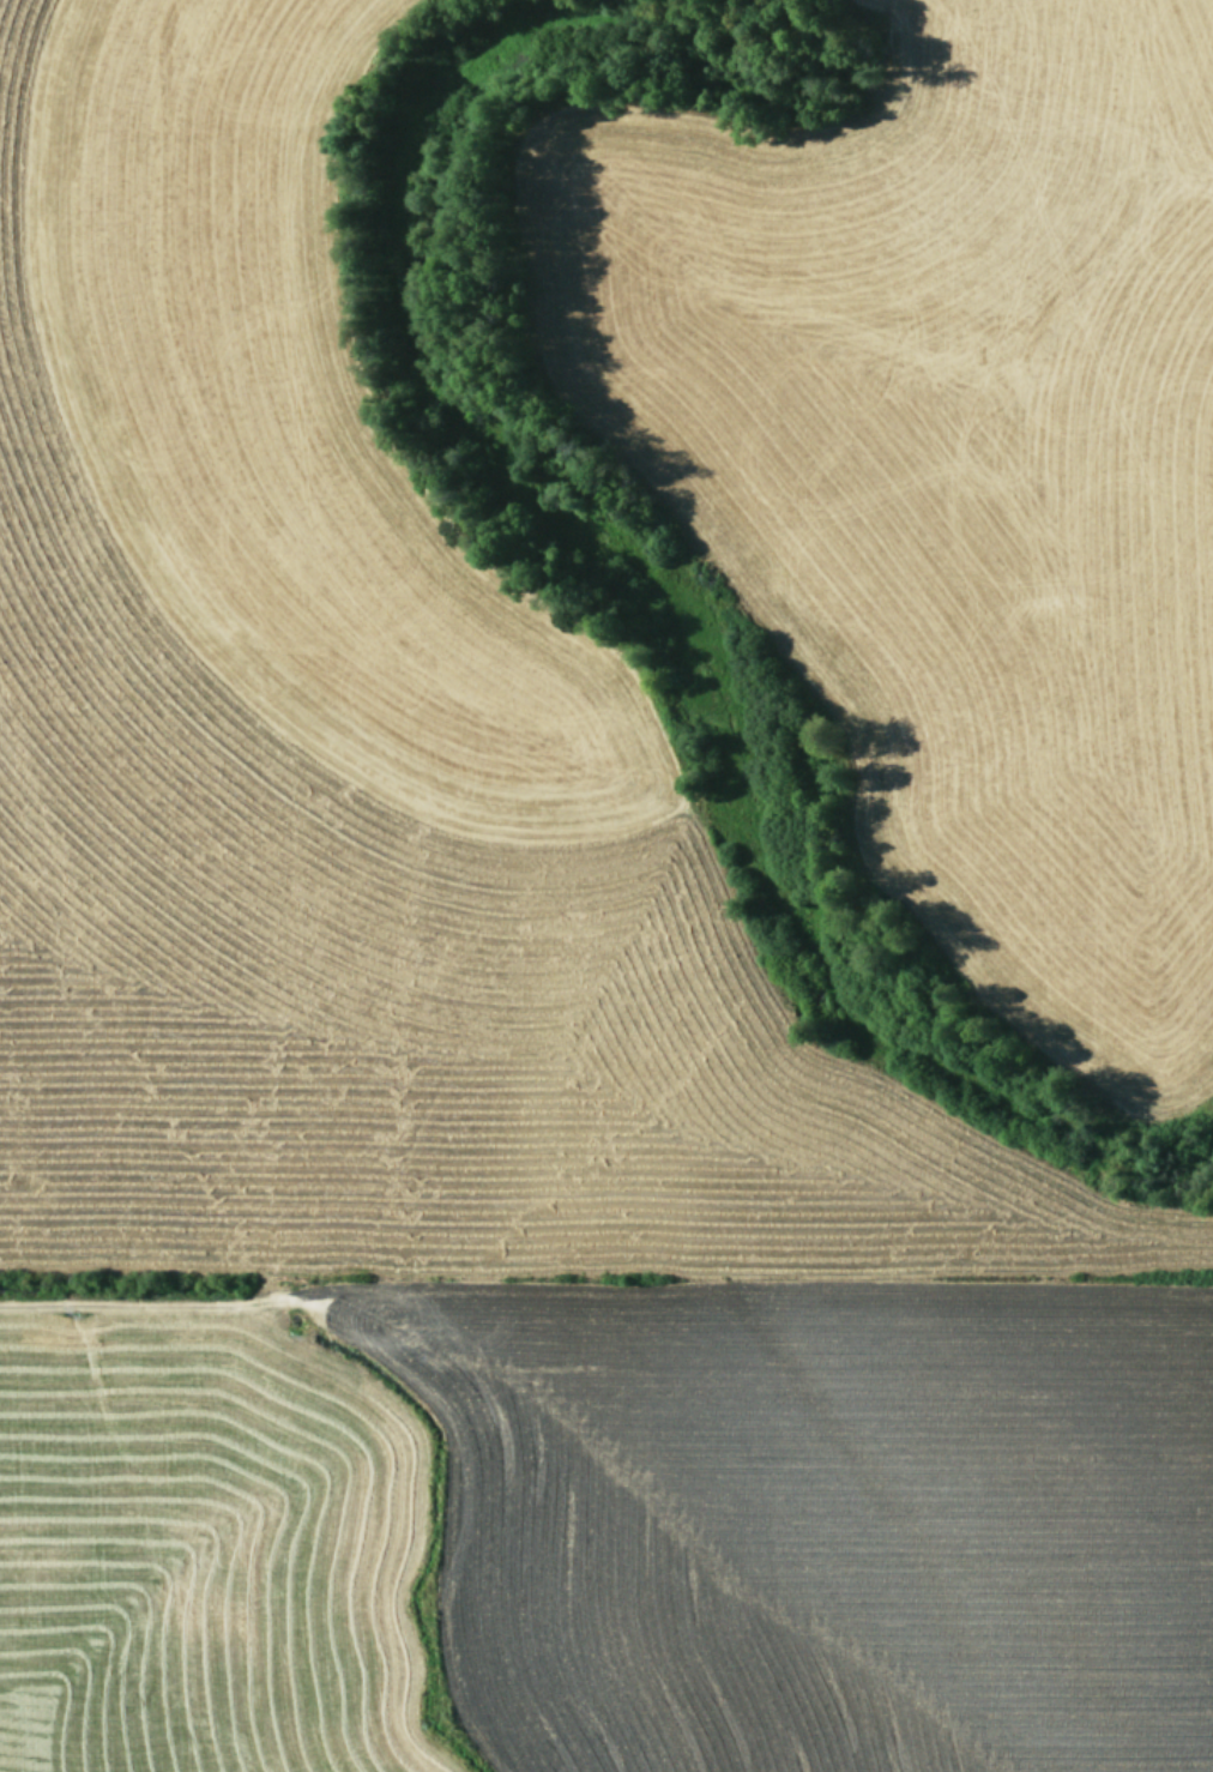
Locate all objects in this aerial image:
crop: (606, 886)

